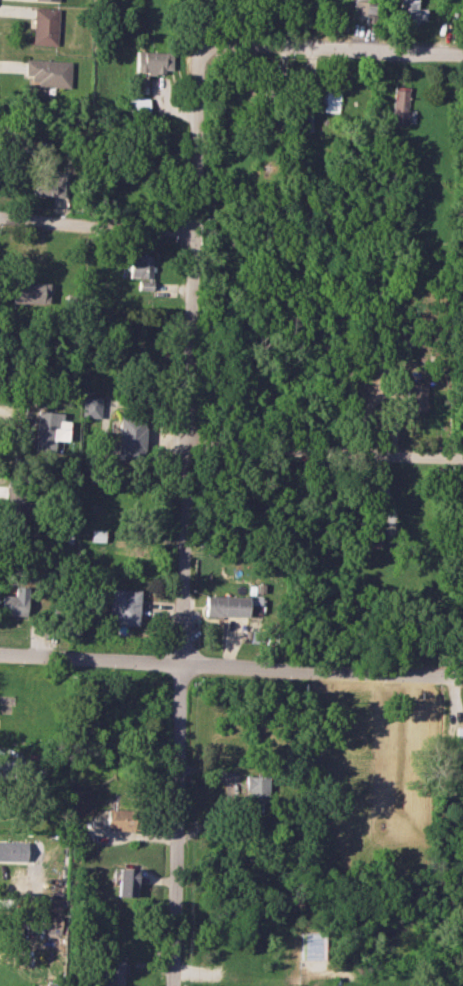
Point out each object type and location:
building: (49, 0)
building: (361, 10)
building: (409, 12)
building: (45, 26)
road: (329, 54)
building: (153, 61)
building: (49, 72)
building: (326, 99)
building: (399, 104)
building: (137, 105)
building: (305, 119)
building: (49, 185)
road: (95, 223)
building: (141, 270)
building: (30, 292)
building: (415, 396)
building: (91, 406)
building: (49, 430)
building: (131, 437)
road: (324, 455)
road: (183, 492)
building: (13, 505)
building: (98, 535)
building: (15, 602)
building: (255, 604)
building: (226, 605)
building: (123, 606)
road: (231, 665)
building: (257, 789)
road: (231, 792)
building: (119, 819)
building: (12, 850)
building: (124, 881)
building: (112, 972)

